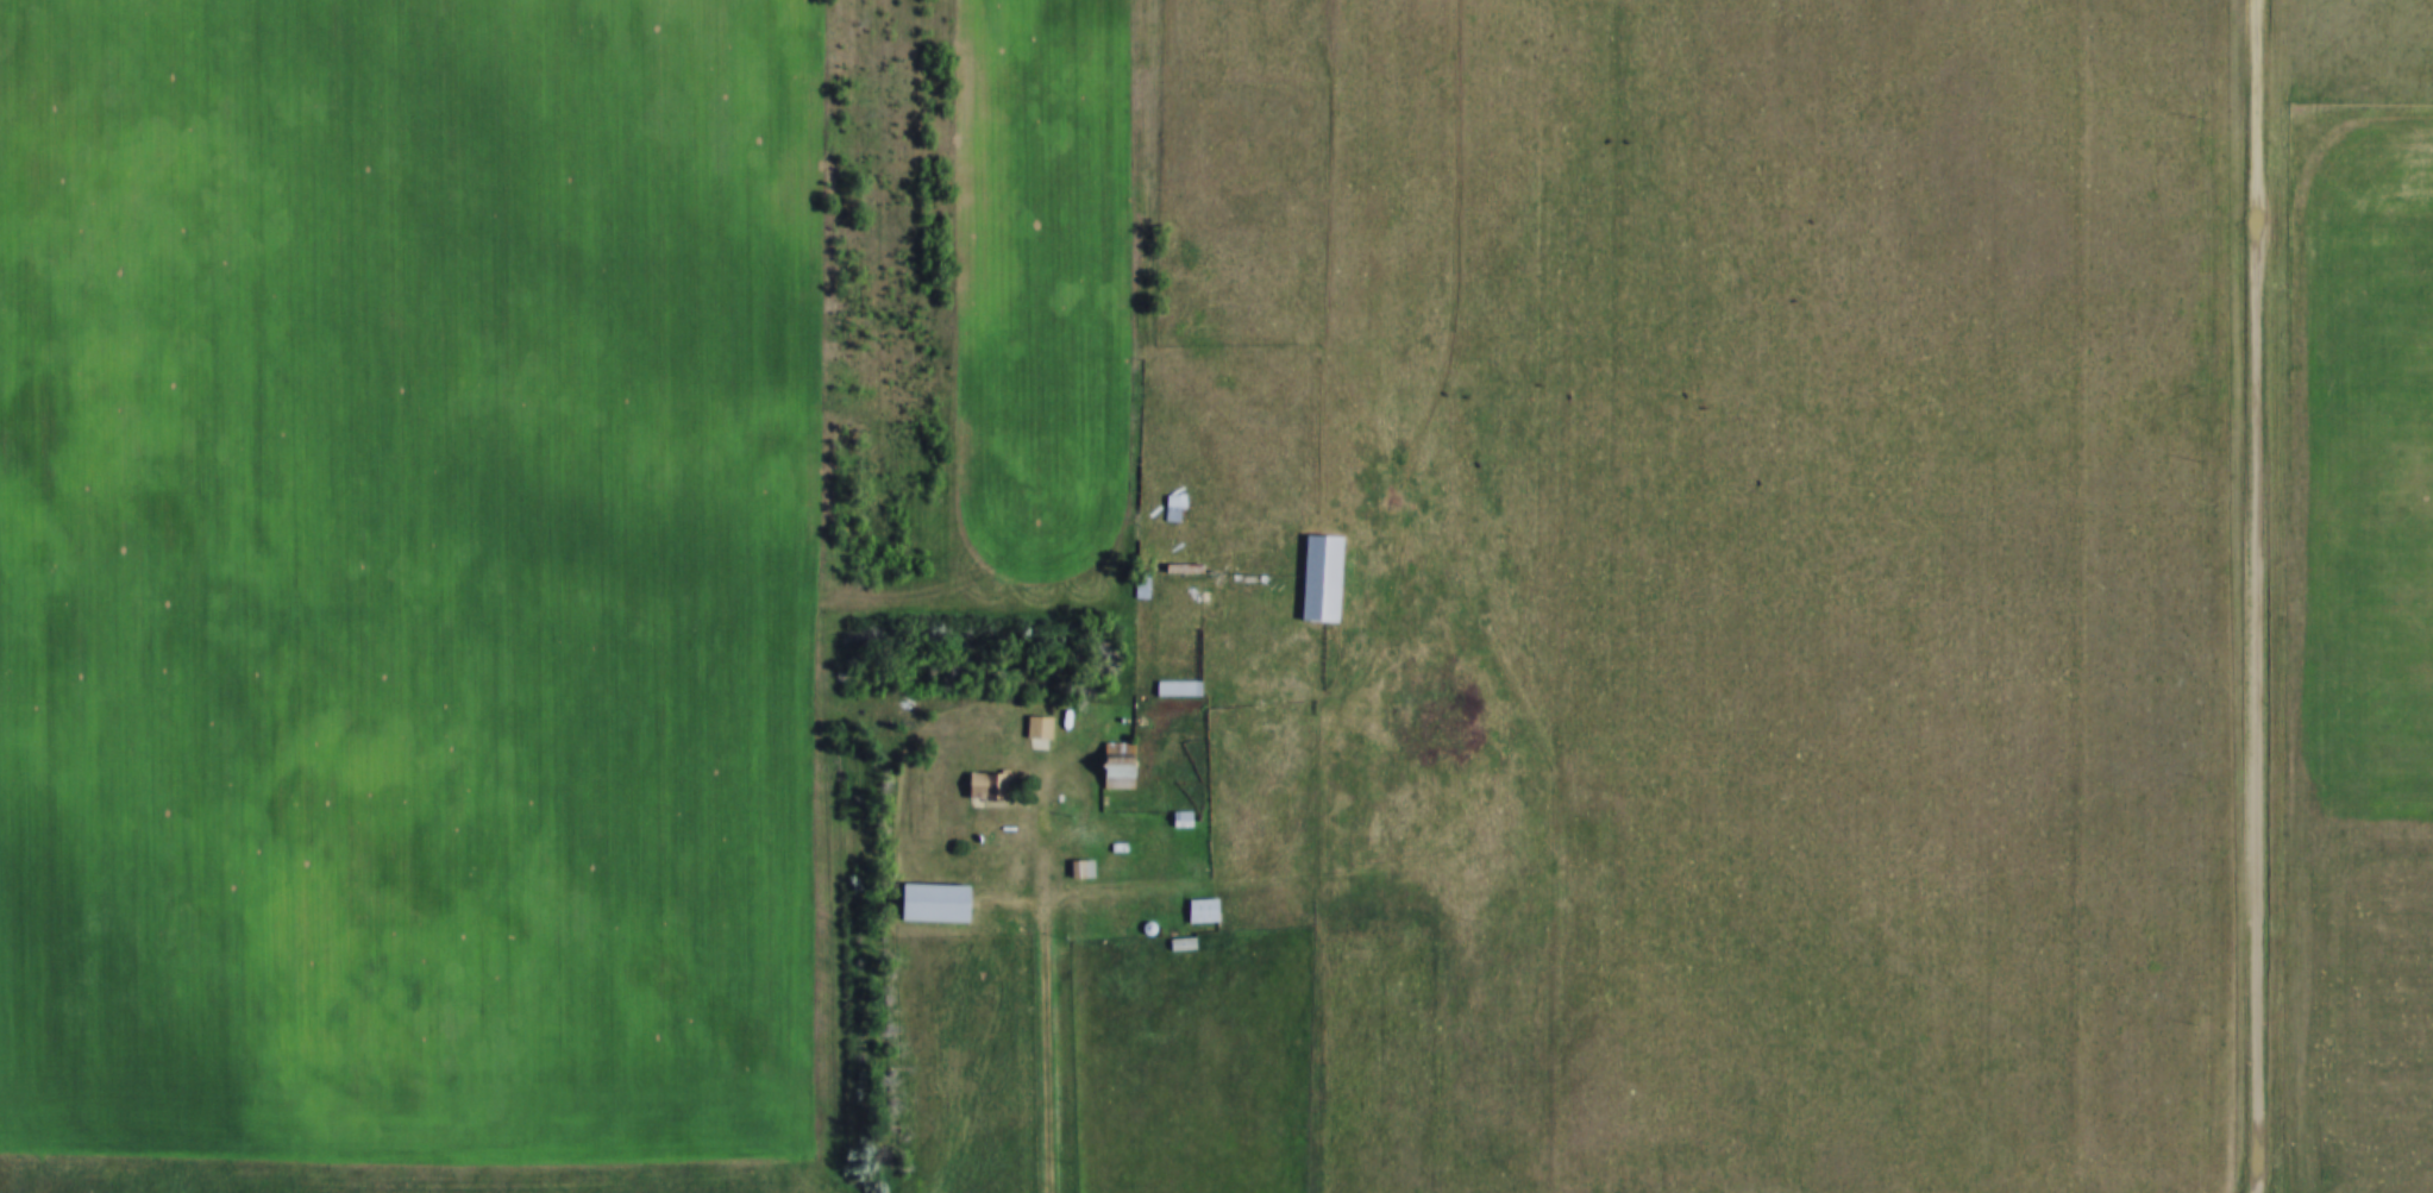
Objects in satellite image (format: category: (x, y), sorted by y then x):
building: (1174, 507)
building: (1321, 576)
building: (1141, 583)
building: (1211, 592)
road: (2258, 596)
road: (972, 603)
building: (1039, 726)
building: (1118, 764)
road: (1077, 767)
building: (989, 783)
building: (935, 900)
building: (1203, 910)
building: (1183, 943)
road: (1052, 1029)

